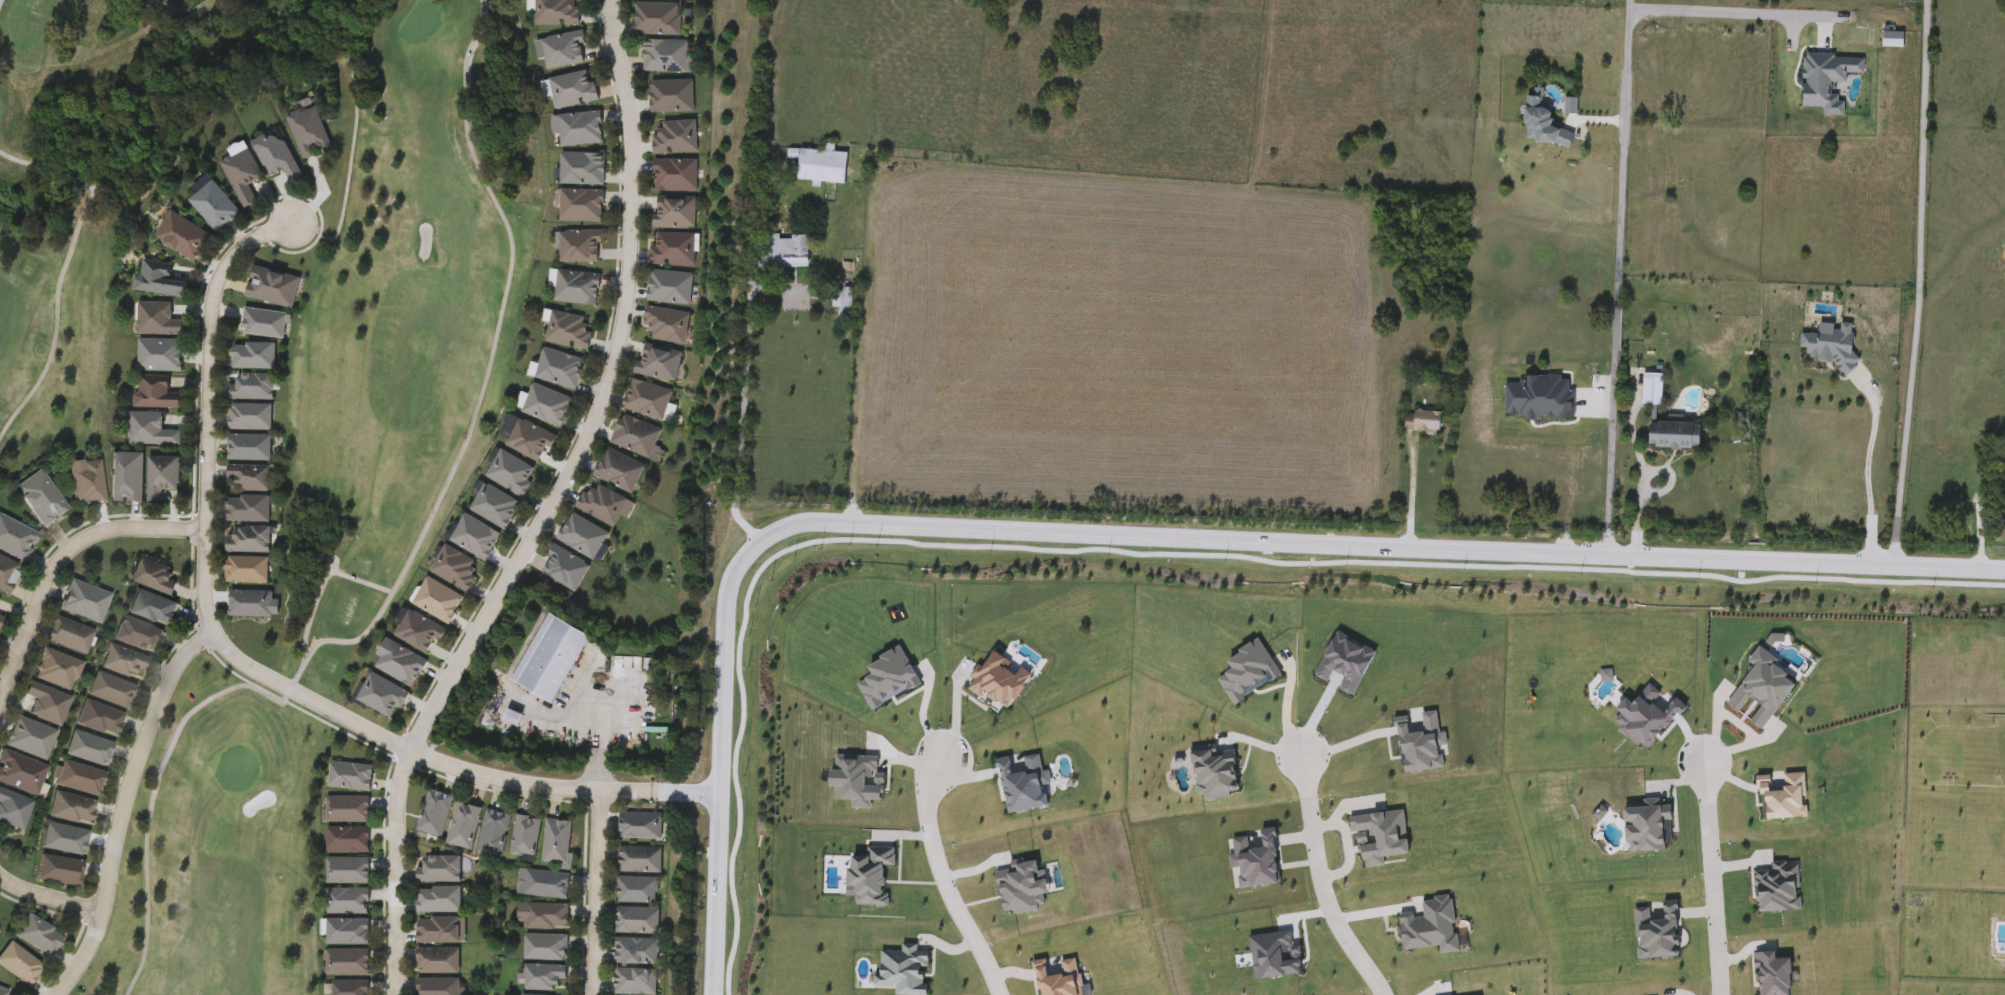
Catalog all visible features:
road: (0, 0)
building: (664, 0)
road: (1727, 6)
road: (198, 12)
building: (558, 13)
building: (657, 20)
park: (422, 21)
building: (565, 50)
building: (668, 57)
building: (575, 89)
building: (674, 96)
building: (582, 129)
building: (311, 133)
building: (677, 137)
building: (277, 156)
building: (825, 166)
building: (584, 170)
building: (244, 176)
building: (677, 176)
building: (216, 207)
building: (584, 207)
building: (677, 215)
building: (185, 238)
building: (581, 248)
building: (674, 250)
building: (790, 252)
road: (63, 268)
road: (1619, 273)
road: (1920, 279)
building: (163, 280)
building: (274, 288)
building: (672, 288)
building: (578, 289)
building: (843, 302)
building: (158, 320)
building: (265, 324)
building: (669, 328)
building: (570, 332)
building: (161, 355)
building: (255, 357)
building: (660, 364)
building: (561, 369)
building: (253, 388)
building: (1650, 389)
building: (156, 395)
road: (598, 396)
building: (649, 400)
building: (547, 406)
road: (855, 411)
road: (743, 415)
building: (252, 418)
building: (1419, 421)
building: (152, 432)
building: (1671, 434)
building: (637, 437)
building: (531, 441)
building: (251, 449)
road: (1868, 467)
building: (621, 471)
building: (514, 475)
building: (164, 477)
building: (129, 478)
building: (251, 478)
road: (1642, 478)
building: (88, 483)
road: (1413, 490)
building: (42, 499)
park: (372, 499)
building: (604, 506)
building: (496, 507)
building: (249, 510)
road: (1148, 533)
building: (585, 537)
building: (477, 538)
building: (16, 539)
building: (250, 541)
road: (60, 553)
road: (407, 563)
building: (458, 570)
building: (567, 570)
building: (248, 571)
building: (8, 575)
building: (156, 578)
building: (86, 602)
building: (440, 602)
building: (253, 605)
building: (155, 609)
building: (0, 624)
building: (420, 633)
building: (71, 636)
building: (140, 636)
building: (552, 660)
building: (126, 664)
road: (245, 664)
building: (403, 665)
building: (57, 669)
building: (113, 691)
building: (384, 697)
building: (48, 704)
road: (953, 709)
road: (1285, 709)
road: (922, 711)
building: (101, 719)
road: (602, 736)
building: (31, 738)
road: (1349, 738)
road: (1260, 747)
building: (91, 749)
park: (239, 769)
building: (21, 774)
building: (352, 777)
building: (82, 779)
road: (124, 807)
road: (1348, 808)
building: (74, 809)
building: (15, 810)
building: (349, 811)
building: (438, 814)
building: (466, 827)
building: (643, 827)
building: (496, 834)
building: (528, 837)
building: (67, 840)
building: (349, 841)
building: (559, 843)
road: (1346, 849)
building: (642, 862)
building: (61, 871)
building: (440, 871)
building: (349, 872)
road: (399, 872)
road: (1710, 876)
road: (1319, 877)
road: (940, 878)
building: (549, 886)
road: (46, 891)
building: (638, 891)
road: (598, 892)
building: (442, 901)
building: (347, 902)
building: (547, 917)
building: (639, 922)
building: (442, 932)
building: (349, 933)
building: (41, 936)
building: (548, 948)
building: (638, 953)
building: (441, 961)
building: (349, 964)
building: (21, 965)
building: (546, 979)
building: (637, 982)
building: (441, 987)
building: (352, 988)
road: (966, 989)
building: (3, 992)
road: (861, 992)

